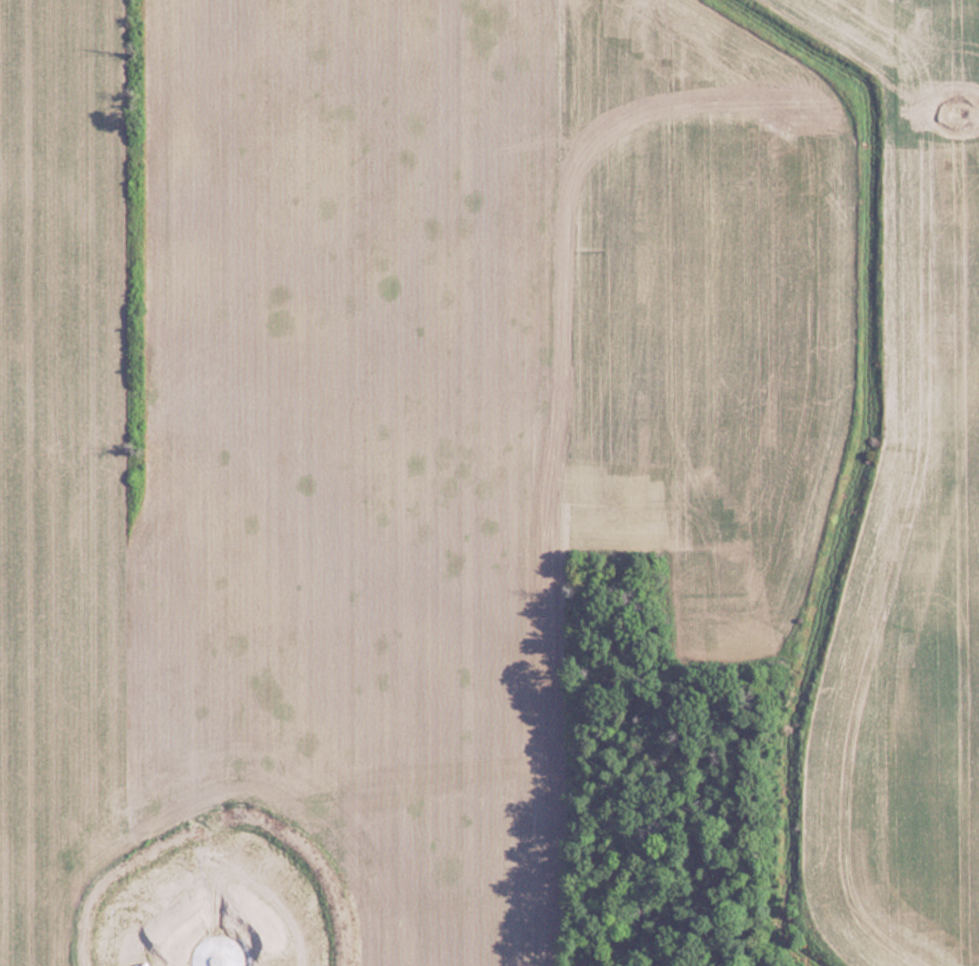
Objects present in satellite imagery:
wind turbine: (218, 962)

